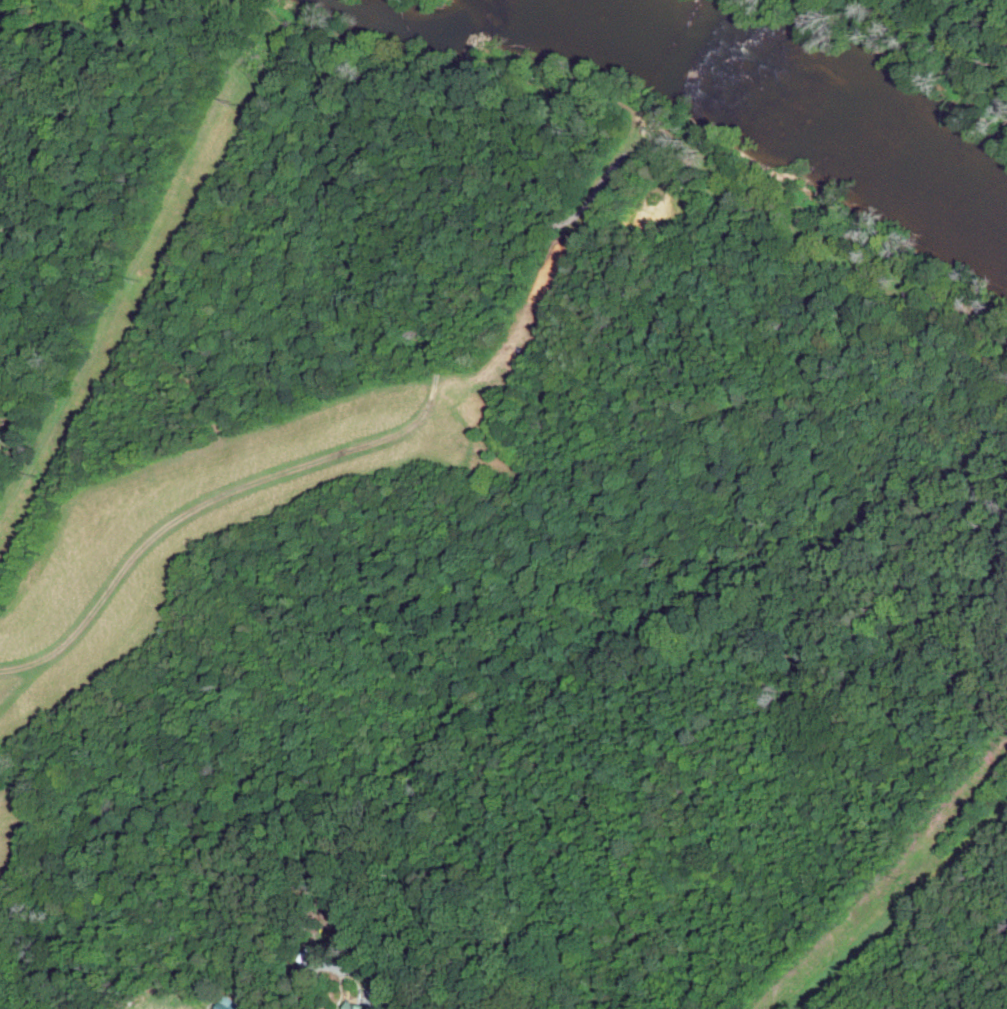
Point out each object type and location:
river: (578, 6)
park: (444, 9)
road: (916, 43)
river: (803, 99)
road: (319, 967)
building: (226, 1004)
building: (359, 1006)

